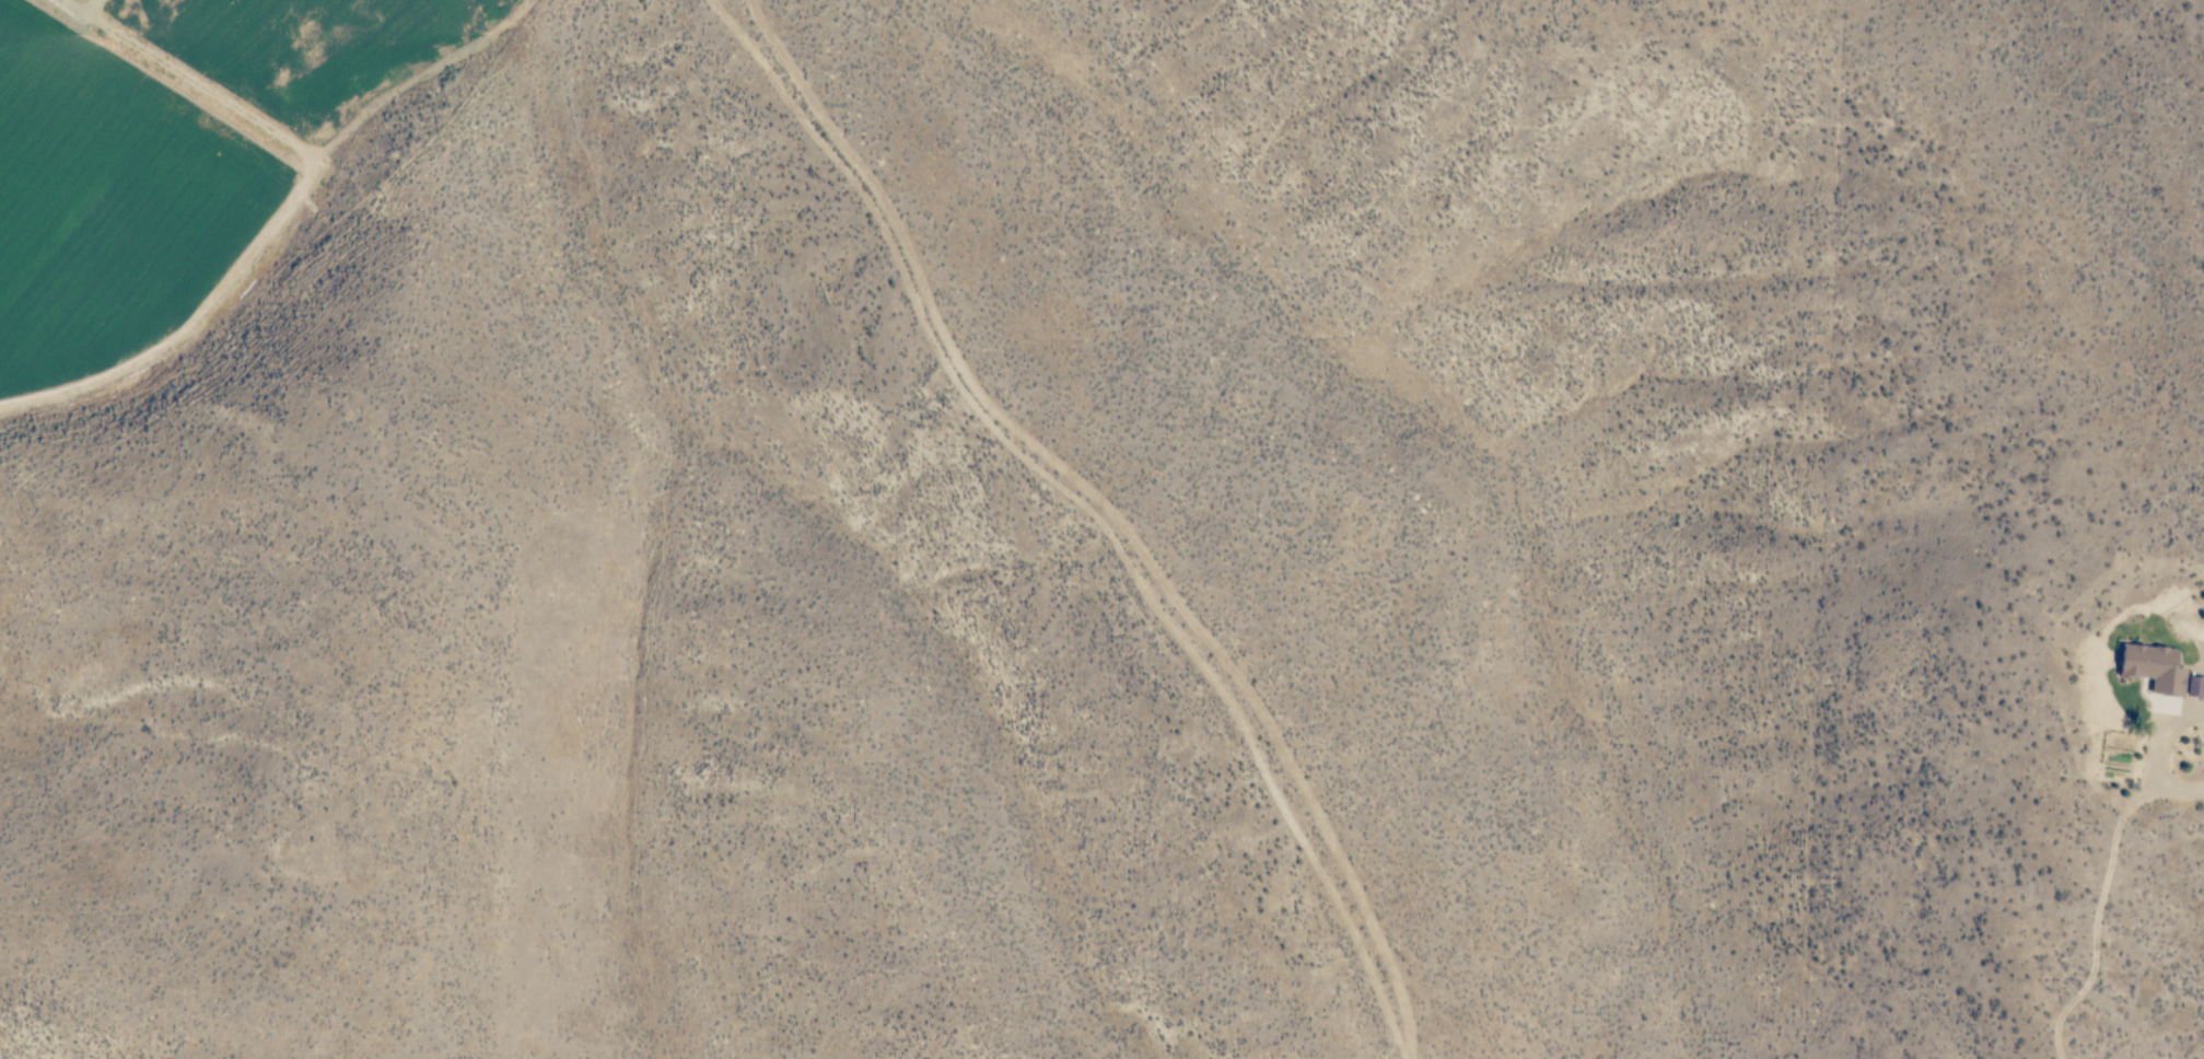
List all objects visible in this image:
building: (2153, 670)

